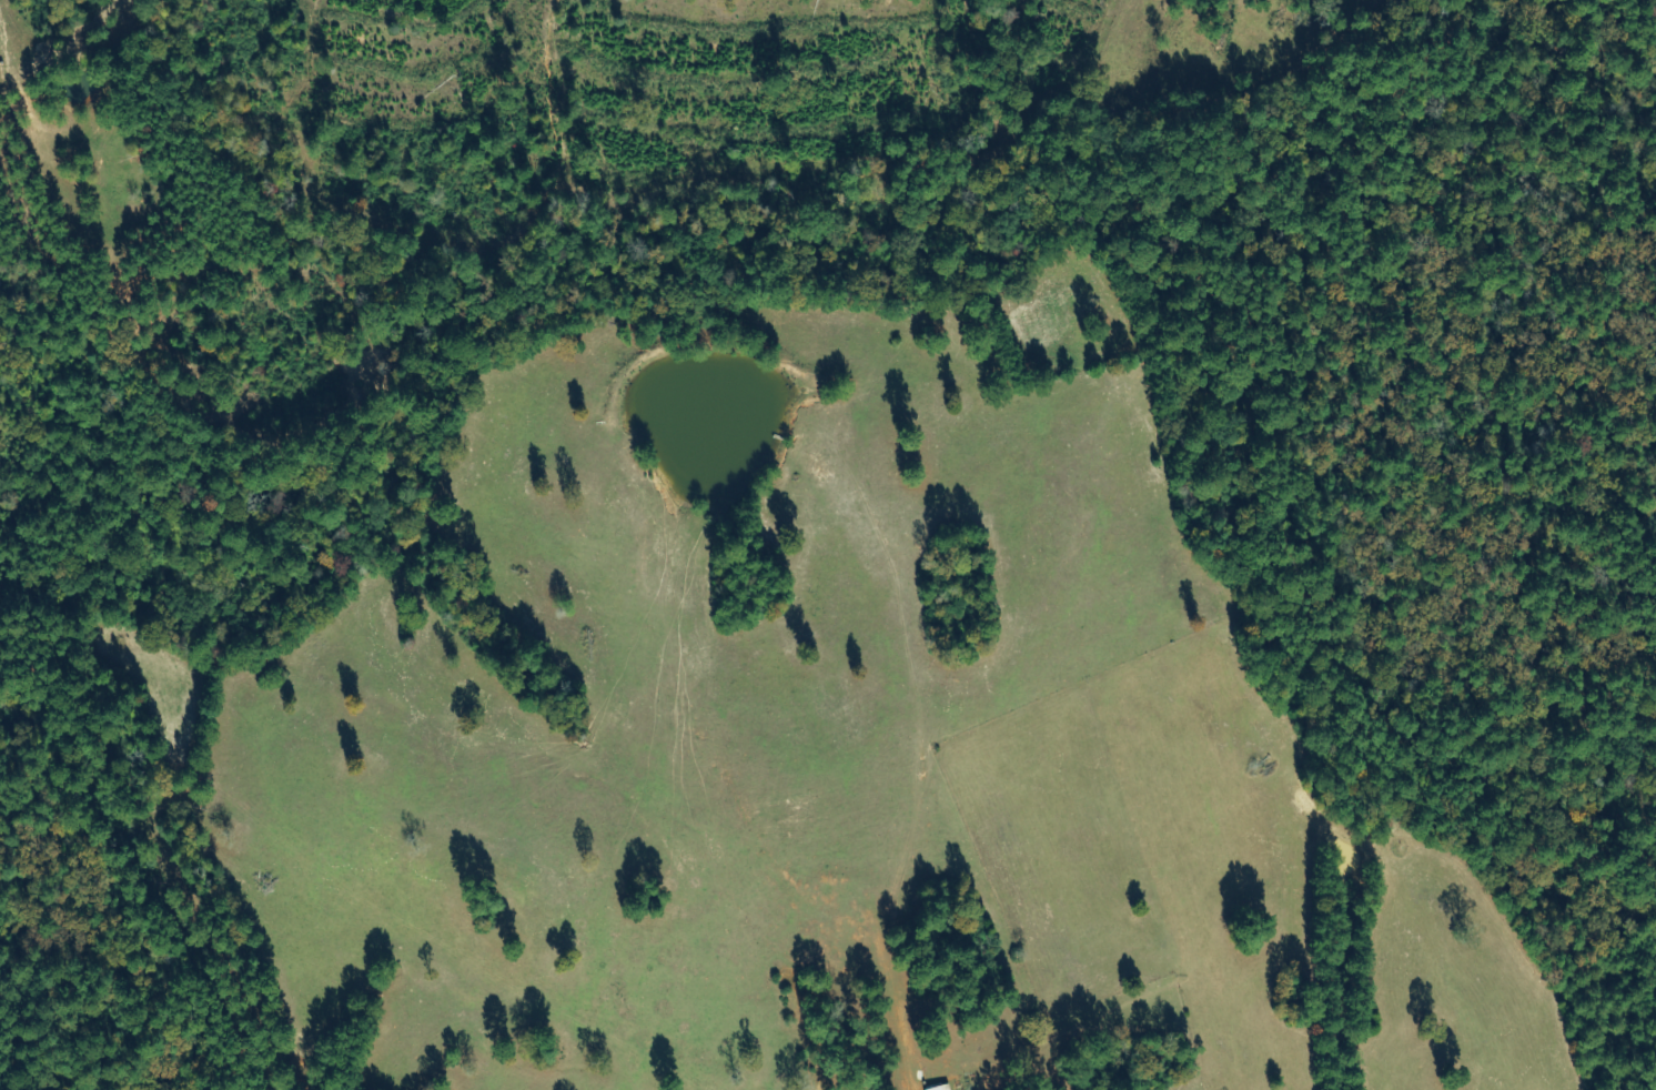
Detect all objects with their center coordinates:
building: (938, 1087)

